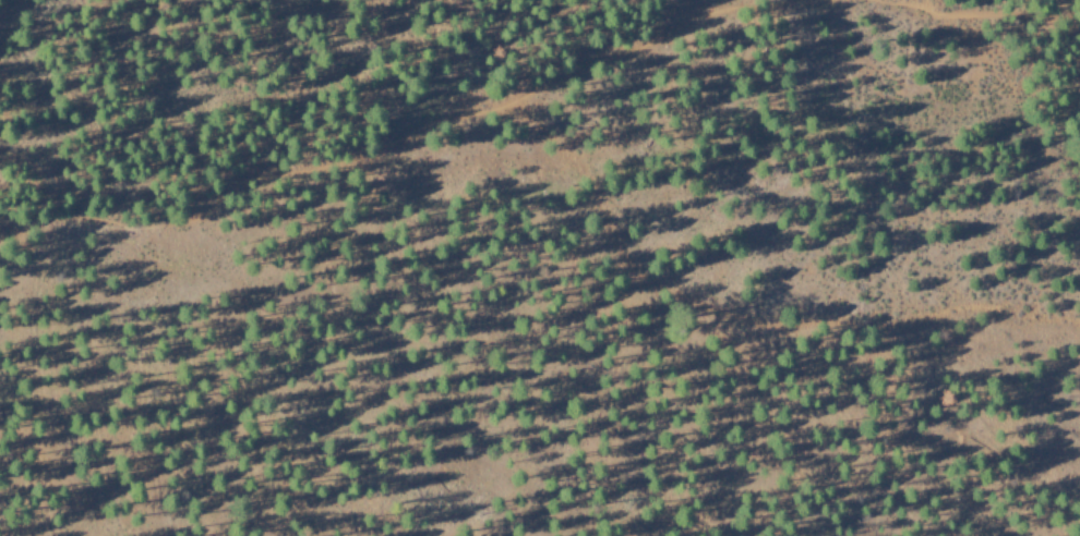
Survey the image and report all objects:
road: (981, 10)
road: (358, 155)

